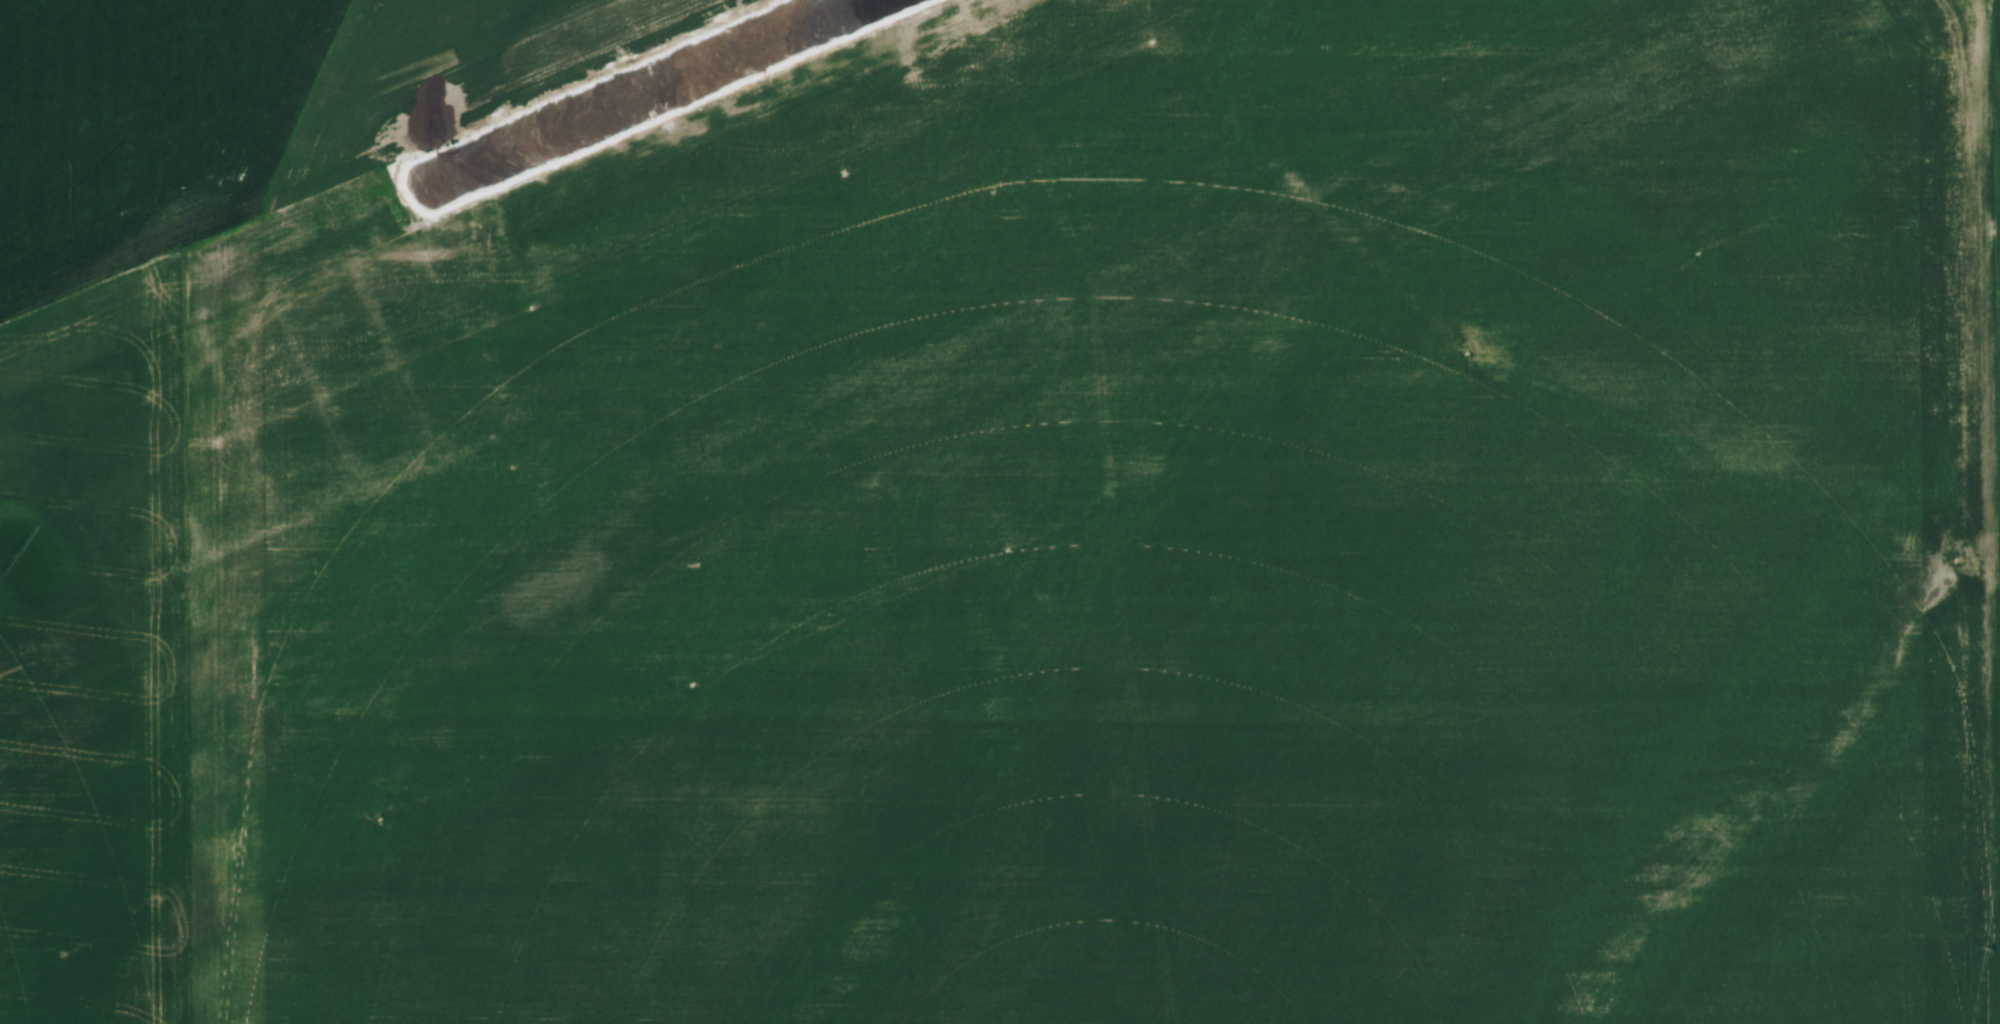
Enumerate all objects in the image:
building: (485, 238)

